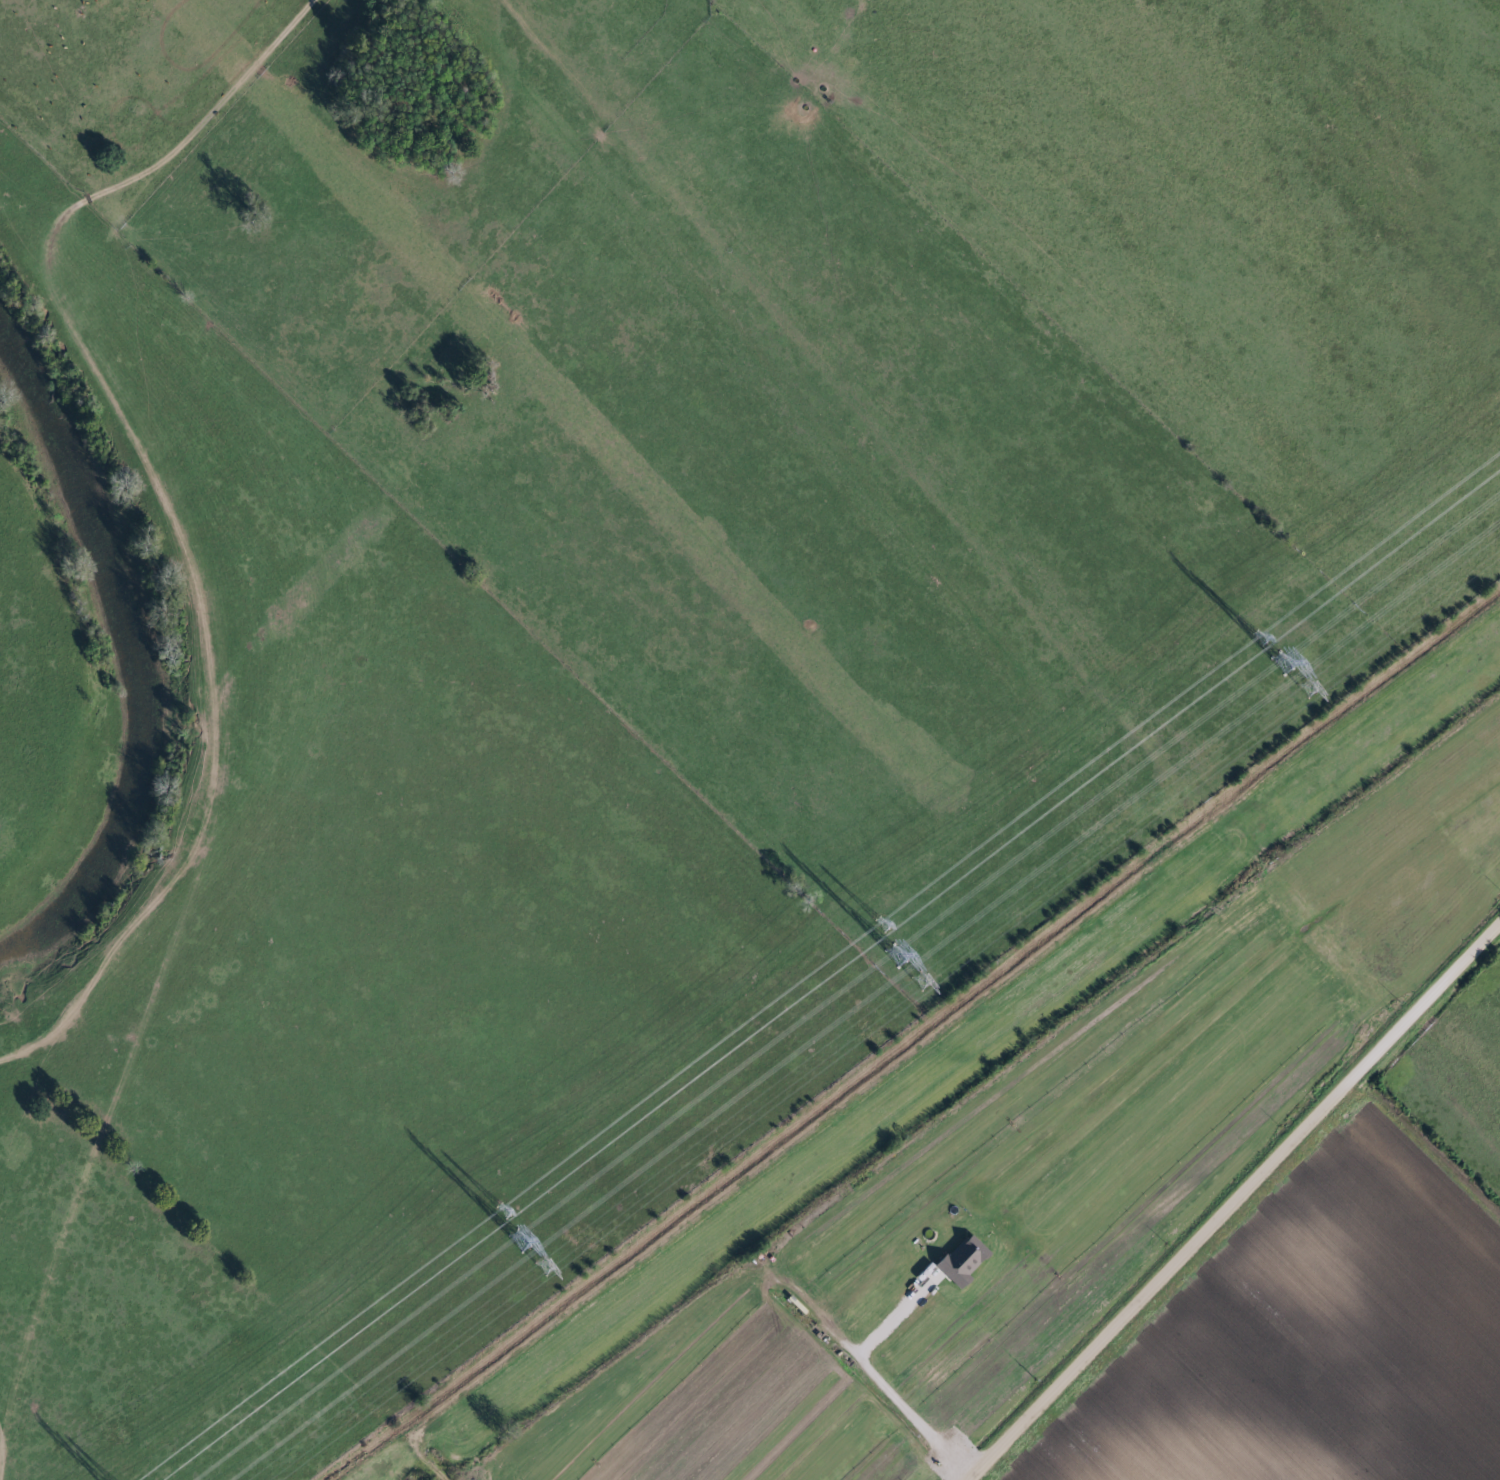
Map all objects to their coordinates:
power tower: (1255, 639)
power tower: (1278, 664)
power tower: (1307, 689)
power tower: (877, 926)
power tower: (894, 956)
power tower: (921, 981)
railway: (933, 1060)
road: (1231, 1201)
power tower: (500, 1211)
power tower: (518, 1241)
building: (956, 1261)
power tower: (543, 1266)
road: (481, 1378)
road: (881, 1385)

